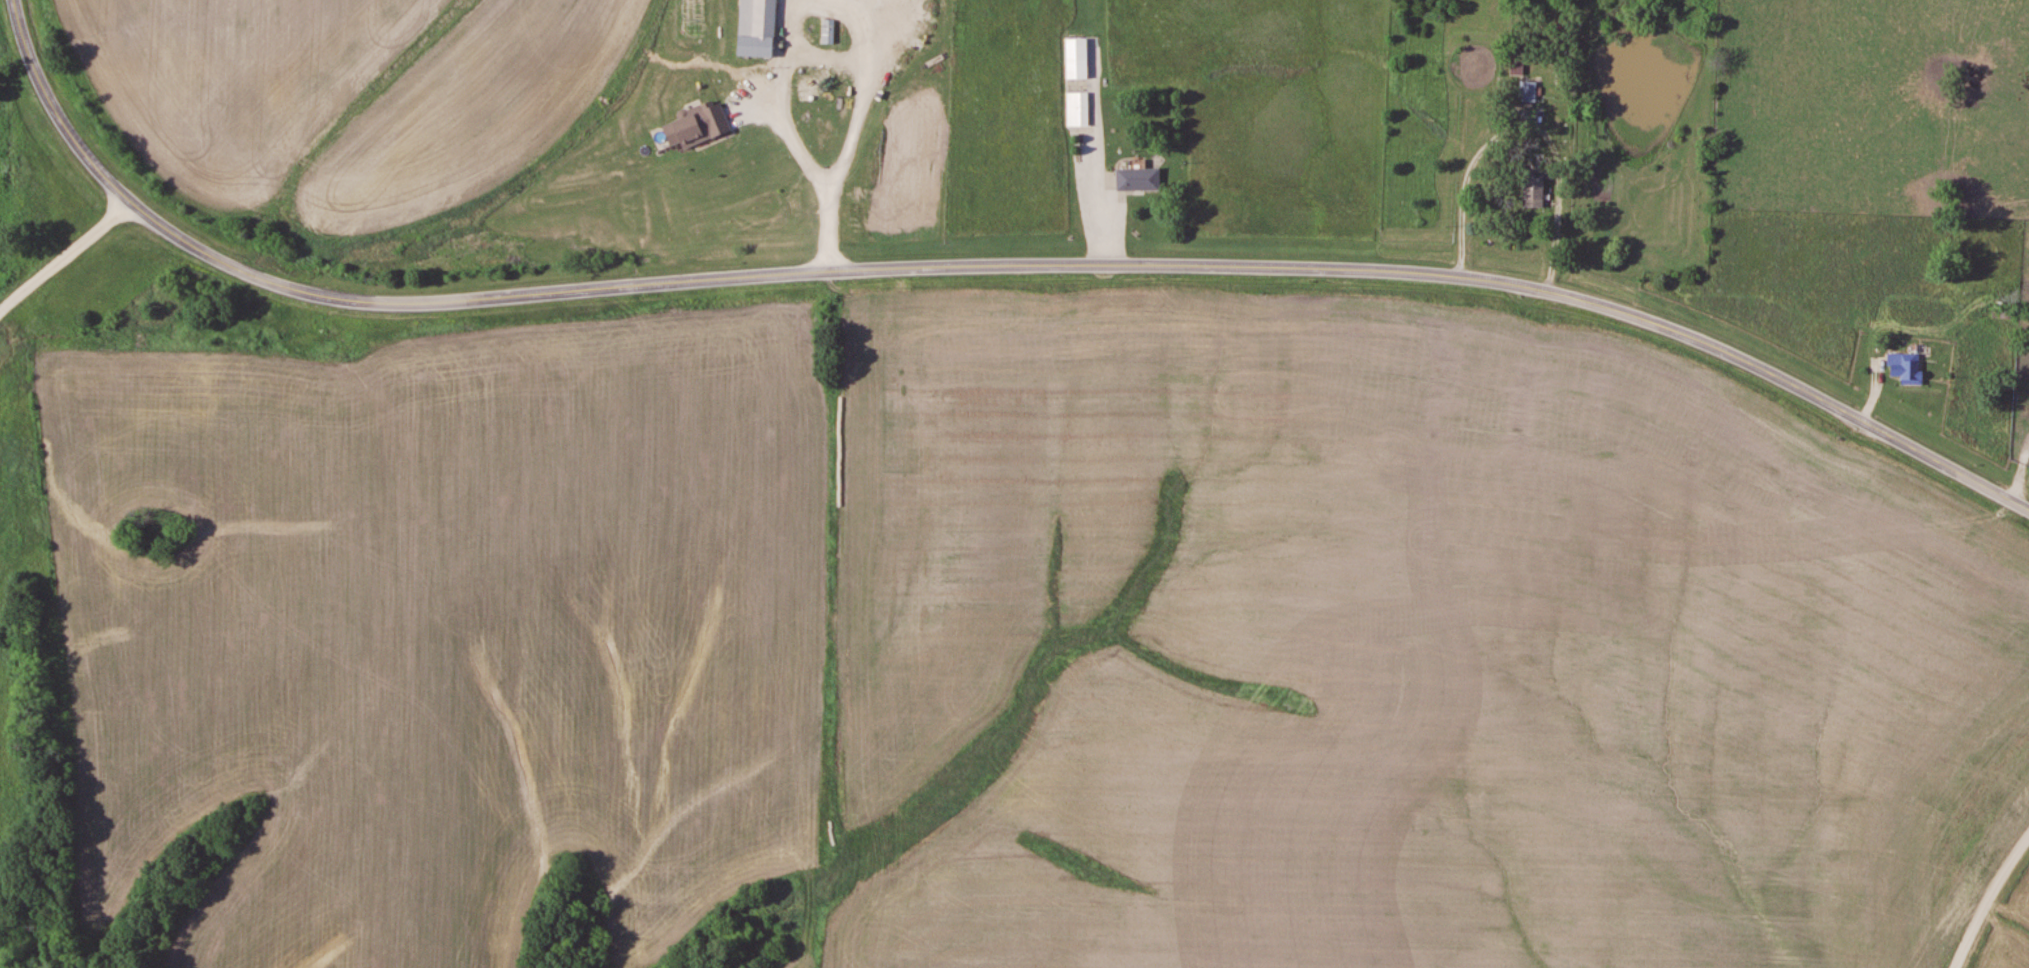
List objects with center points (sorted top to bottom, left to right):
building: (757, 27)
building: (828, 30)
building: (1078, 57)
building: (1518, 62)
building: (813, 83)
building: (1528, 91)
building: (1078, 109)
building: (698, 125)
building: (1139, 179)
building: (1534, 192)
road: (60, 264)
road: (971, 269)
building: (1907, 367)
road: (1989, 900)

